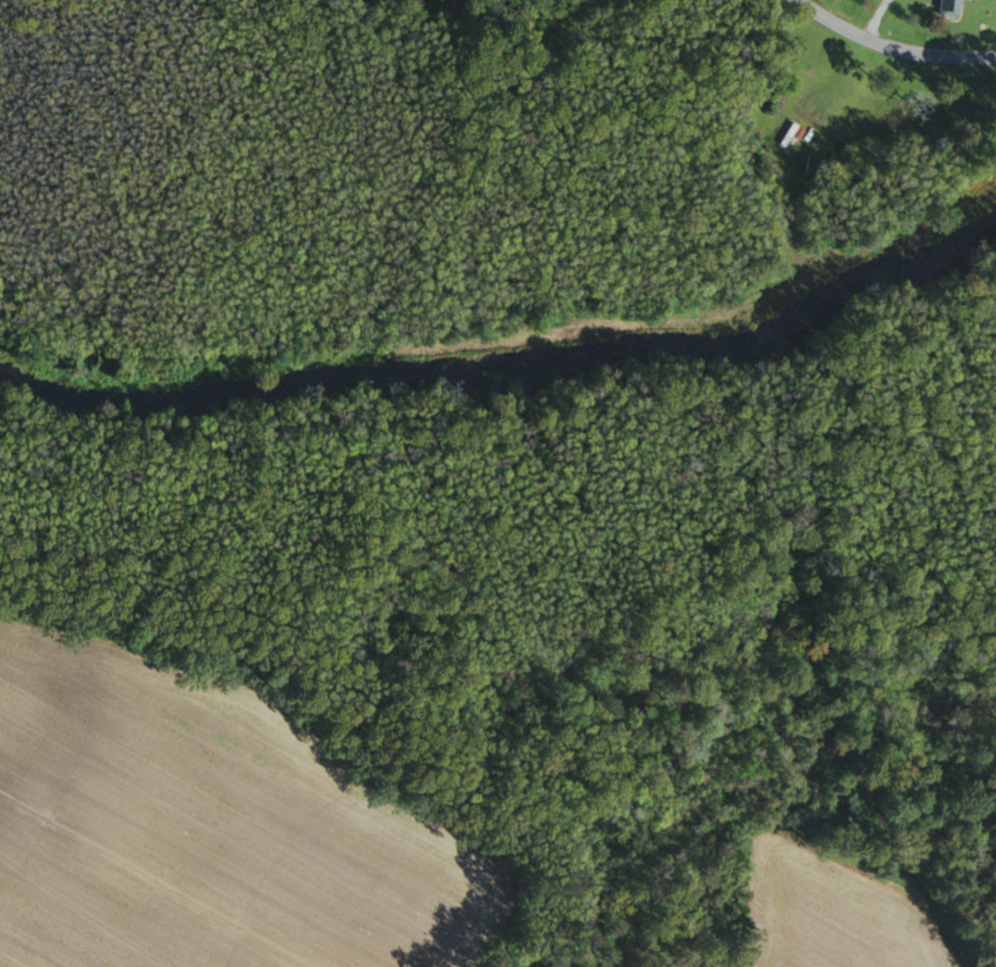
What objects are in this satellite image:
building: (949, 7)
road: (885, 51)

